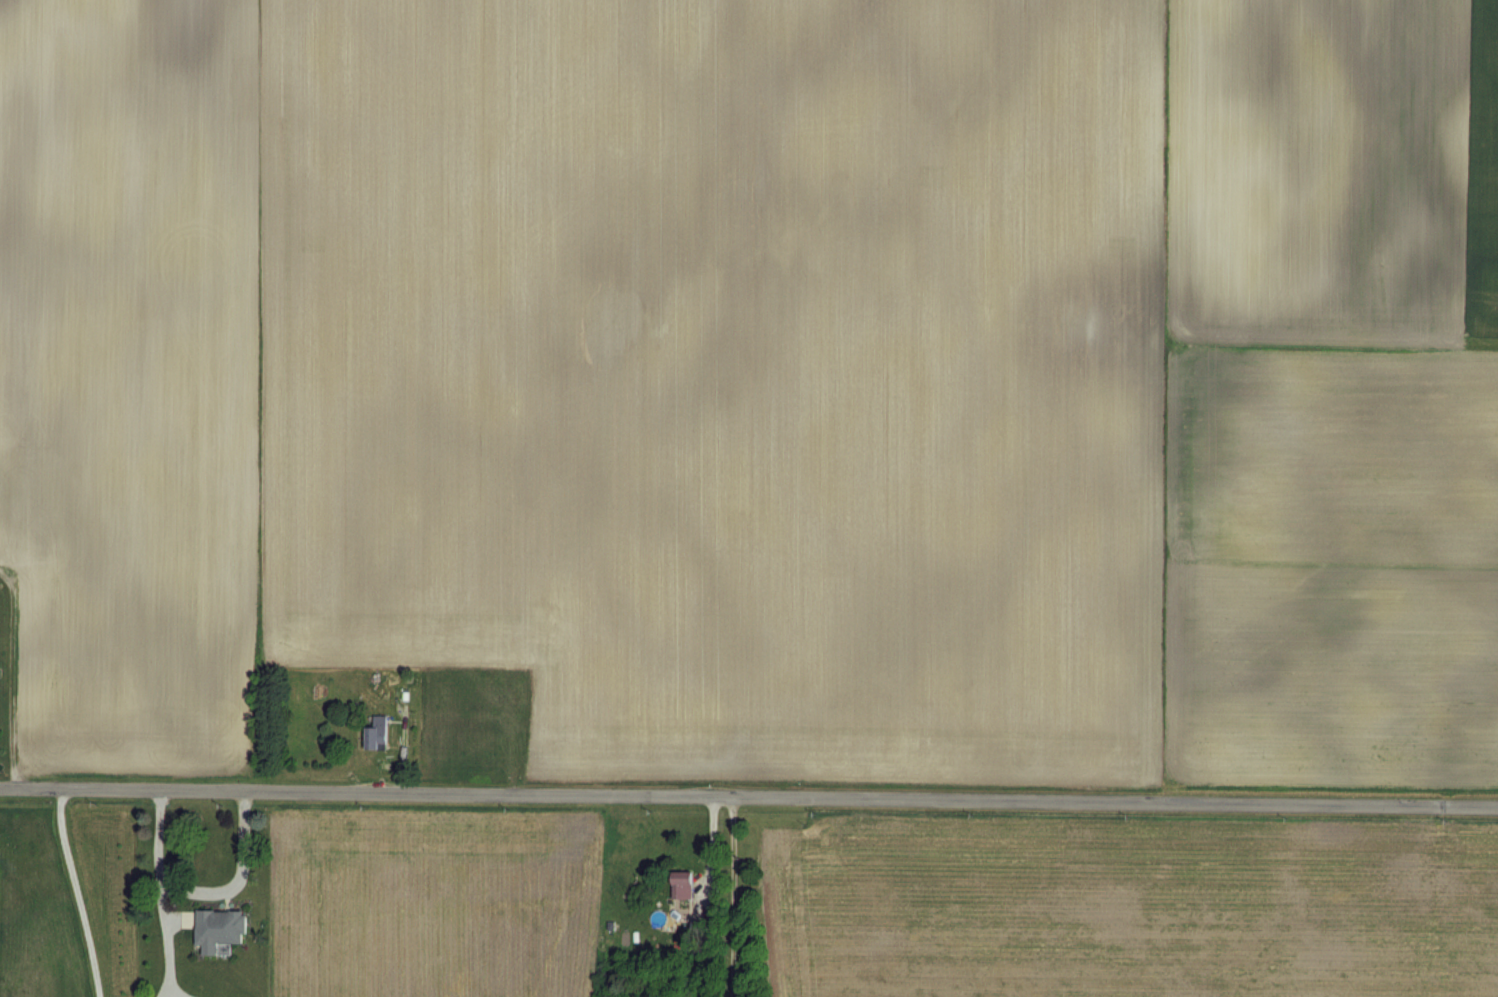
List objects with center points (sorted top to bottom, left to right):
road: (7, 676)
building: (377, 734)
road: (749, 795)
road: (198, 885)
building: (681, 885)
road: (74, 890)
building: (218, 929)

